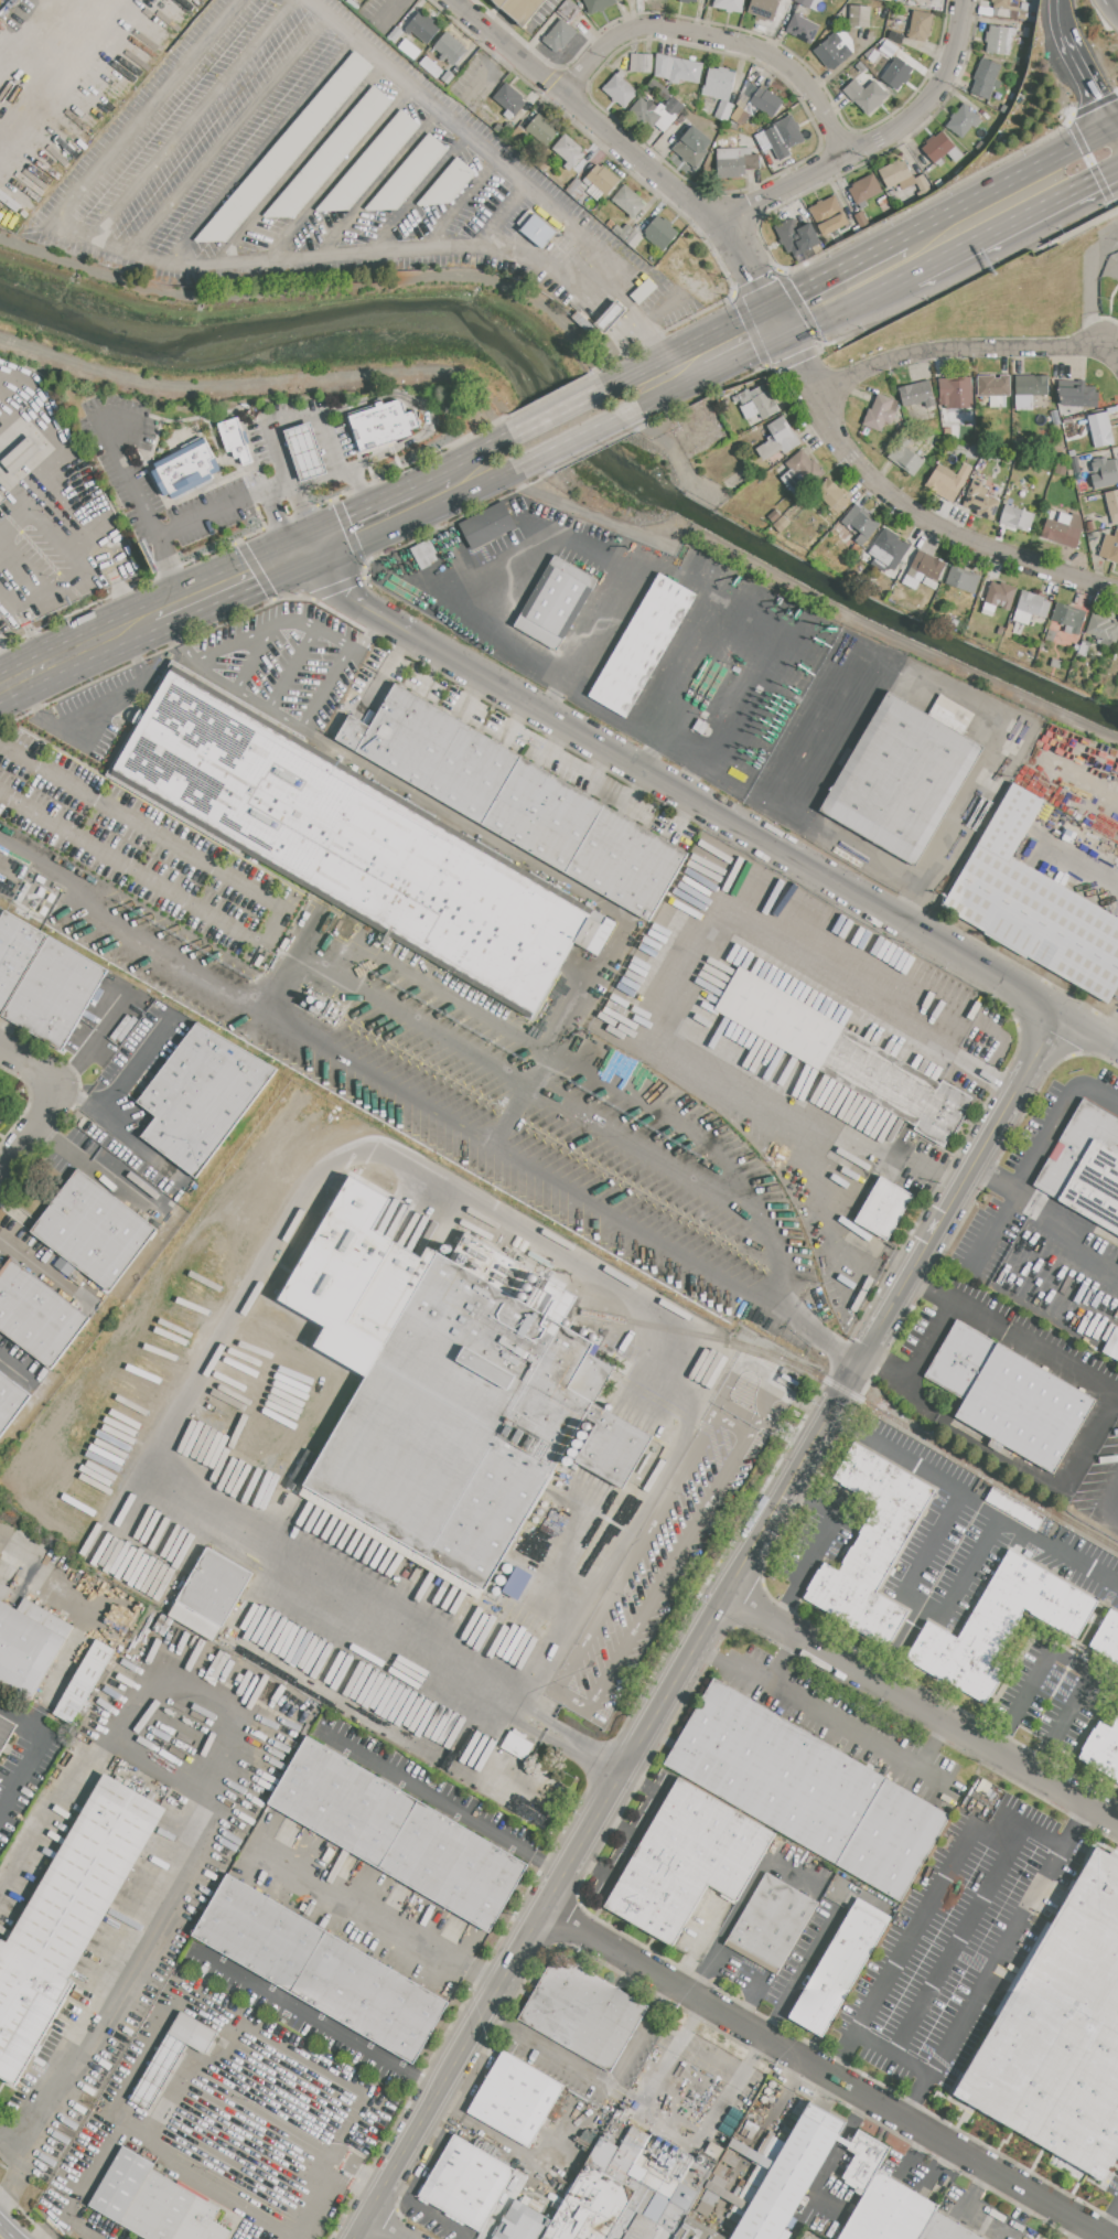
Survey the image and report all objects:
building: (890, 0)
building: (688, 1)
road: (1103, 1)
building: (1034, 2)
building: (810, 3)
building: (598, 4)
building: (729, 4)
building: (1006, 4)
building: (520, 9)
building: (763, 9)
building: (569, 10)
road: (395, 13)
building: (1015, 13)
road: (1110, 13)
building: (860, 17)
road: (1060, 17)
building: (921, 25)
road: (21, 26)
building: (422, 28)
building: (803, 29)
building: (560, 34)
building: (396, 35)
building: (896, 36)
building: (999, 40)
road: (721, 41)
building: (889, 46)
building: (450, 49)
building: (836, 49)
road: (1074, 55)
building: (642, 63)
building: (663, 65)
building: (430, 66)
building: (861, 67)
building: (686, 71)
building: (897, 73)
road: (60, 74)
building: (985, 78)
building: (719, 83)
building: (621, 89)
building: (745, 95)
building: (867, 96)
road: (1100, 96)
building: (509, 100)
building: (766, 100)
building: (671, 101)
building: (724, 110)
building: (644, 114)
building: (740, 115)
road: (1088, 117)
road: (194, 118)
road: (452, 119)
building: (964, 120)
building: (504, 129)
building: (542, 129)
road: (230, 133)
building: (518, 133)
building: (784, 137)
road: (1093, 139)
road: (880, 143)
road: (622, 144)
building: (692, 144)
building: (981, 147)
building: (942, 149)
road: (262, 150)
building: (569, 151)
building: (330, 154)
building: (370, 162)
building: (735, 162)
road: (299, 163)
building: (541, 167)
road: (1107, 172)
road: (340, 174)
building: (408, 174)
building: (896, 174)
road: (1107, 174)
parking lot: (330, 176)
building: (601, 181)
road: (380, 183)
building: (923, 184)
building: (576, 189)
building: (864, 190)
road: (419, 193)
road: (940, 193)
road: (986, 195)
building: (628, 201)
building: (882, 201)
road: (461, 203)
building: (828, 215)
building: (861, 218)
road: (1004, 226)
building: (539, 231)
building: (622, 231)
building: (660, 232)
building: (634, 238)
building: (798, 238)
road: (122, 248)
road: (593, 248)
road: (1105, 254)
road: (836, 272)
road: (560, 281)
road: (960, 285)
building: (643, 292)
park: (1018, 299)
road: (849, 306)
road: (1108, 312)
building: (611, 317)
building: (582, 322)
road: (643, 322)
road: (777, 323)
road: (698, 343)
road: (972, 354)
road: (745, 358)
building: (995, 388)
building: (1029, 389)
building: (956, 393)
building: (917, 394)
building: (1078, 394)
road: (675, 395)
building: (756, 403)
road: (422, 407)
road: (566, 411)
building: (880, 414)
road: (293, 418)
building: (381, 424)
building: (1100, 429)
building: (780, 438)
building: (1073, 439)
building: (232, 440)
road: (581, 441)
road: (330, 443)
road: (280, 450)
building: (305, 451)
building: (21, 453)
building: (905, 458)
road: (469, 460)
building: (1075, 464)
building: (806, 465)
building: (184, 467)
building: (1062, 468)
road: (68, 471)
building: (1105, 473)
road: (324, 475)
road: (126, 476)
building: (948, 481)
road: (294, 483)
road: (377, 483)
parking lot: (248, 484)
road: (482, 485)
road: (15, 488)
road: (364, 493)
building: (832, 495)
building: (2, 496)
building: (979, 500)
building: (1111, 505)
road: (224, 507)
road: (915, 510)
parking lot: (55, 511)
road: (307, 511)
road: (335, 512)
road: (590, 515)
building: (774, 515)
building: (1017, 517)
road: (278, 518)
road: (376, 519)
road: (269, 521)
building: (860, 523)
building: (782, 524)
building: (487, 525)
building: (1057, 526)
road: (53, 529)
road: (240, 543)
traffic signals: (308, 547)
road: (447, 547)
building: (1109, 547)
building: (889, 549)
building: (424, 554)
road: (284, 557)
road: (313, 559)
road: (363, 561)
road: (170, 568)
building: (924, 569)
building: (964, 580)
road: (214, 586)
road: (53, 589)
road: (121, 592)
road: (312, 594)
road: (271, 596)
building: (999, 598)
building: (555, 602)
road: (12, 604)
building: (1031, 607)
road: (148, 614)
building: (1071, 618)
road: (600, 622)
road: (312, 629)
building: (1018, 629)
building: (1103, 630)
road: (181, 633)
building: (1050, 635)
road: (369, 638)
road: (36, 641)
building: (643, 646)
building: (1084, 650)
road: (63, 653)
road: (676, 655)
road: (256, 657)
road: (194, 661)
parking lot: (284, 662)
building: (1056, 663)
road: (6, 666)
road: (293, 669)
road: (746, 689)
parking lot: (762, 690)
road: (318, 701)
road: (777, 705)
road: (99, 708)
parking lot: (100, 709)
road: (809, 720)
road: (995, 759)
road: (815, 769)
building: (902, 778)
building: (517, 802)
road: (721, 815)
building: (354, 840)
parking lot: (143, 850)
road: (29, 855)
road: (877, 861)
road: (1089, 865)
road: (21, 881)
road: (574, 888)
building: (1034, 904)
road: (283, 912)
road: (737, 924)
road: (157, 946)
building: (15, 953)
road: (303, 953)
building: (54, 992)
road: (1112, 1030)
building: (849, 1059)
road: (514, 1074)
road: (119, 1085)
road: (1098, 1094)
building: (201, 1096)
road: (47, 1102)
building: (1, 1116)
road: (140, 1146)
road: (337, 1161)
building: (1086, 1165)
road: (861, 1168)
road: (1025, 1174)
road: (996, 1180)
building: (884, 1209)
building: (94, 1229)
road: (1076, 1229)
road: (921, 1283)
building: (36, 1313)
road: (1023, 1340)
building: (1111, 1345)
road: (885, 1367)
road: (746, 1370)
road: (15, 1371)
railway: (850, 1389)
building: (1010, 1395)
building: (10, 1401)
road: (813, 1406)
road: (762, 1418)
building: (461, 1421)
road: (794, 1437)
building: (615, 1448)
road: (906, 1460)
road: (1022, 1469)
building: (1015, 1508)
building: (1045, 1525)
road: (932, 1542)
road: (818, 1544)
building: (872, 1546)
road: (1064, 1552)
road: (975, 1557)
building: (211, 1594)
road: (924, 1604)
road: (713, 1617)
building: (1000, 1625)
building: (1107, 1636)
building: (28, 1643)
road: (72, 1654)
road: (784, 1659)
road: (1072, 1664)
building: (83, 1681)
road: (211, 1692)
road: (571, 1700)
road: (924, 1705)
road: (19, 1706)
road: (828, 1722)
building: (6, 1732)
building: (517, 1744)
road: (932, 1747)
building: (1103, 1749)
road: (584, 1751)
building: (808, 1790)
road: (424, 1793)
road: (1017, 1821)
building: (397, 1832)
road: (203, 1840)
building: (688, 1861)
road: (547, 1866)
road: (742, 1900)
road: (362, 1905)
building: (68, 1917)
building: (773, 1919)
road: (913, 1929)
road: (958, 1938)
road: (997, 1962)
building: (320, 1967)
building: (839, 1970)
road: (804, 1973)
road: (756, 1975)
road: (483, 1976)
building: (583, 2013)
road: (315, 2020)
building: (1061, 2032)
building: (193, 2033)
road: (287, 2047)
road: (839, 2050)
road: (892, 2051)
road: (825, 2072)
road: (696, 2080)
road: (596, 2082)
road: (653, 2083)
building: (516, 2098)
building: (778, 2107)
building: (752, 2126)
road: (709, 2128)
road: (518, 2155)
building: (864, 2160)
building: (730, 2161)
building: (722, 2171)
building: (651, 2173)
building: (791, 2175)
road: (196, 2176)
building: (696, 2176)
building: (756, 2177)
road: (358, 2179)
building: (467, 2182)
road: (83, 2183)
building: (600, 2190)
building: (719, 2194)
building: (709, 2199)
building: (154, 2203)
building: (678, 2208)
building: (890, 2213)
road: (1108, 2220)
building: (525, 2221)
road: (88, 2226)
building: (637, 2228)
road: (358, 2229)
road: (380, 2229)
building: (946, 2229)
road: (8, 2231)
building: (695, 2231)
road: (1083, 2233)

